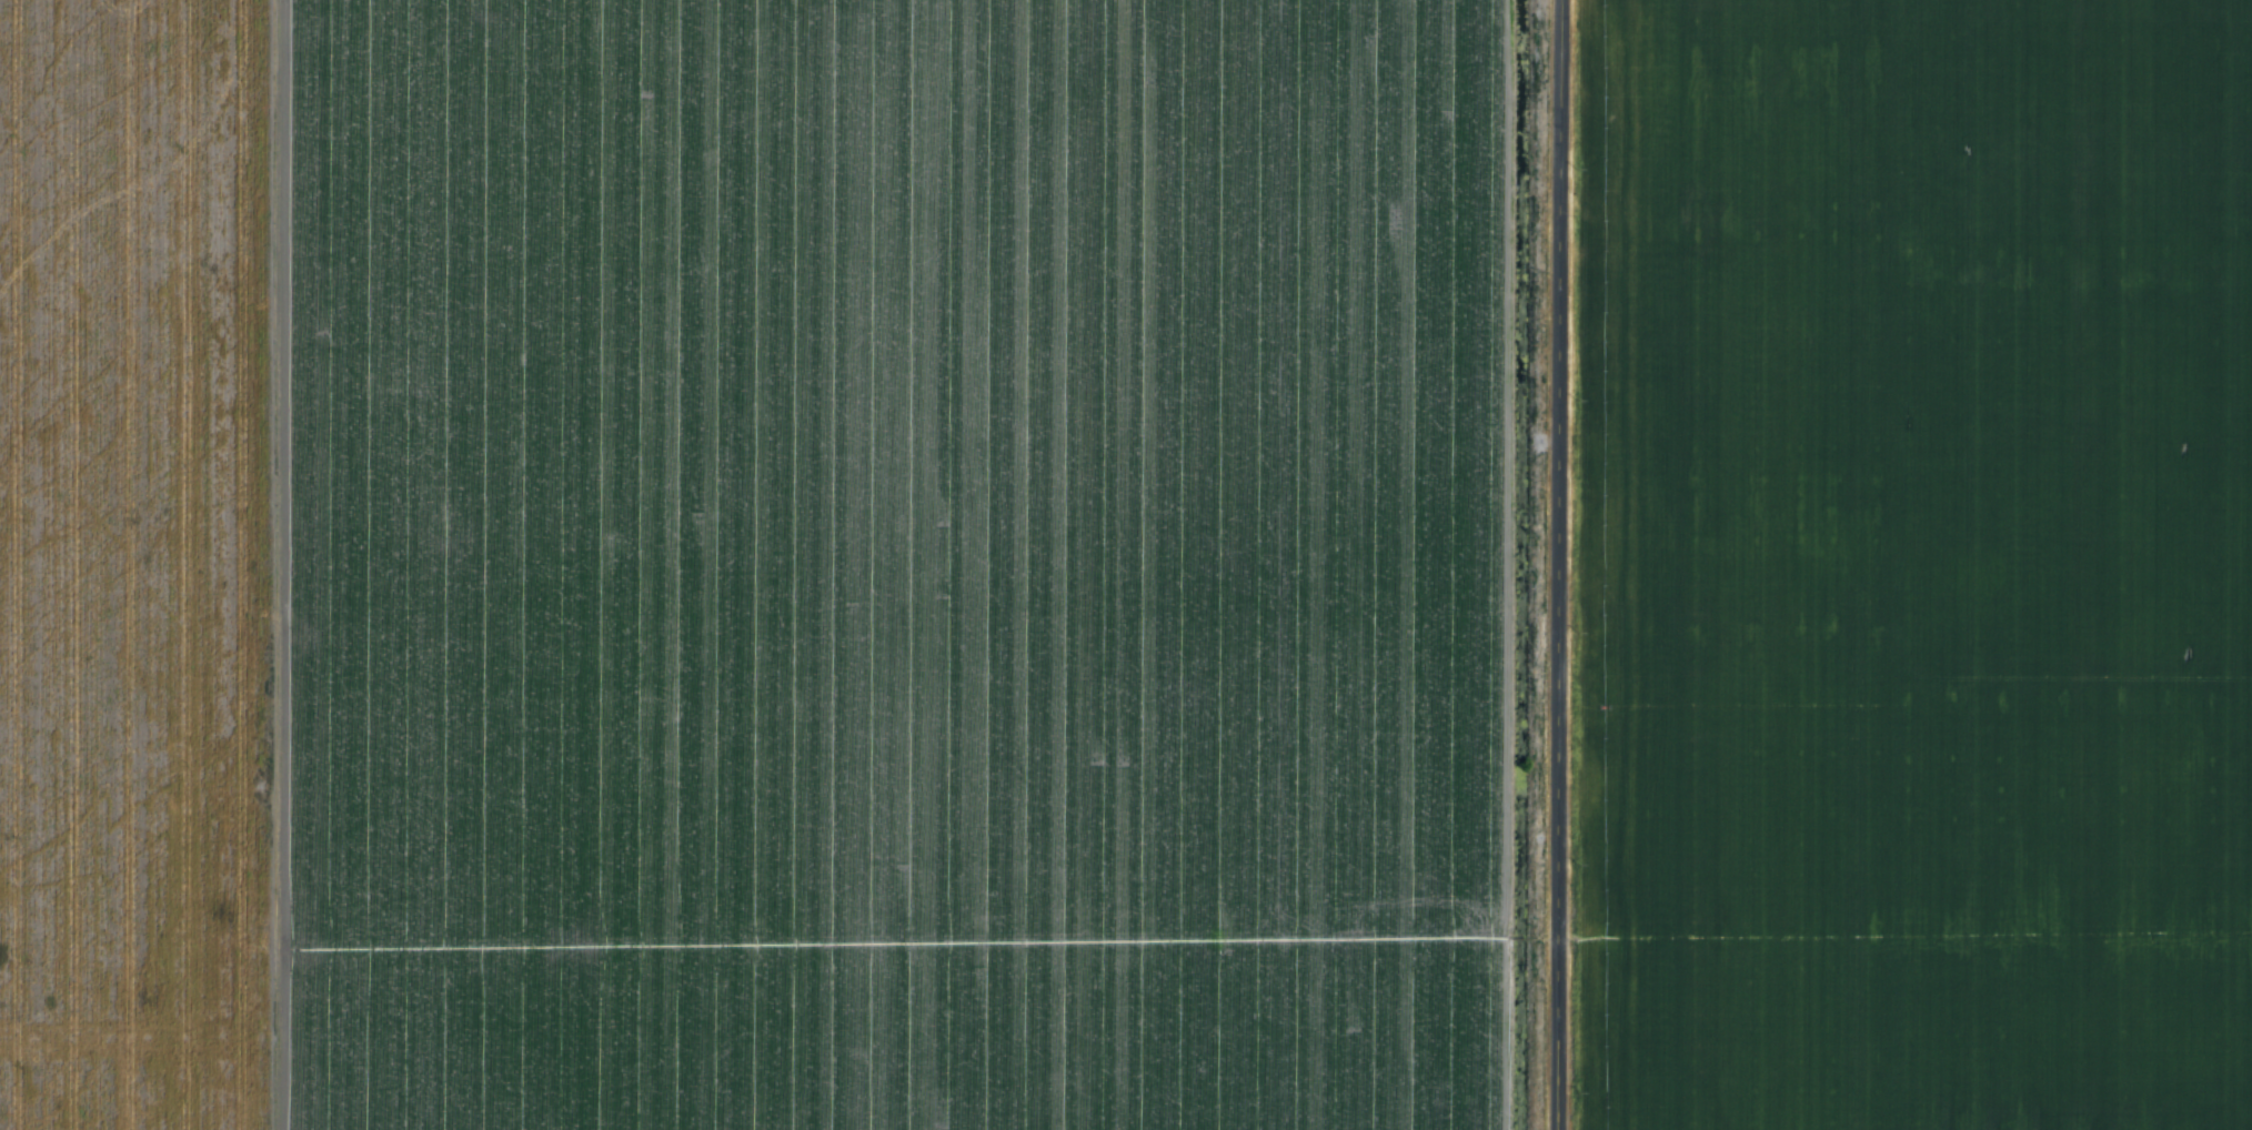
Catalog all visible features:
crop: (140, 564)
crop: (895, 564)
road: (1552, 564)
crop: (1916, 565)

